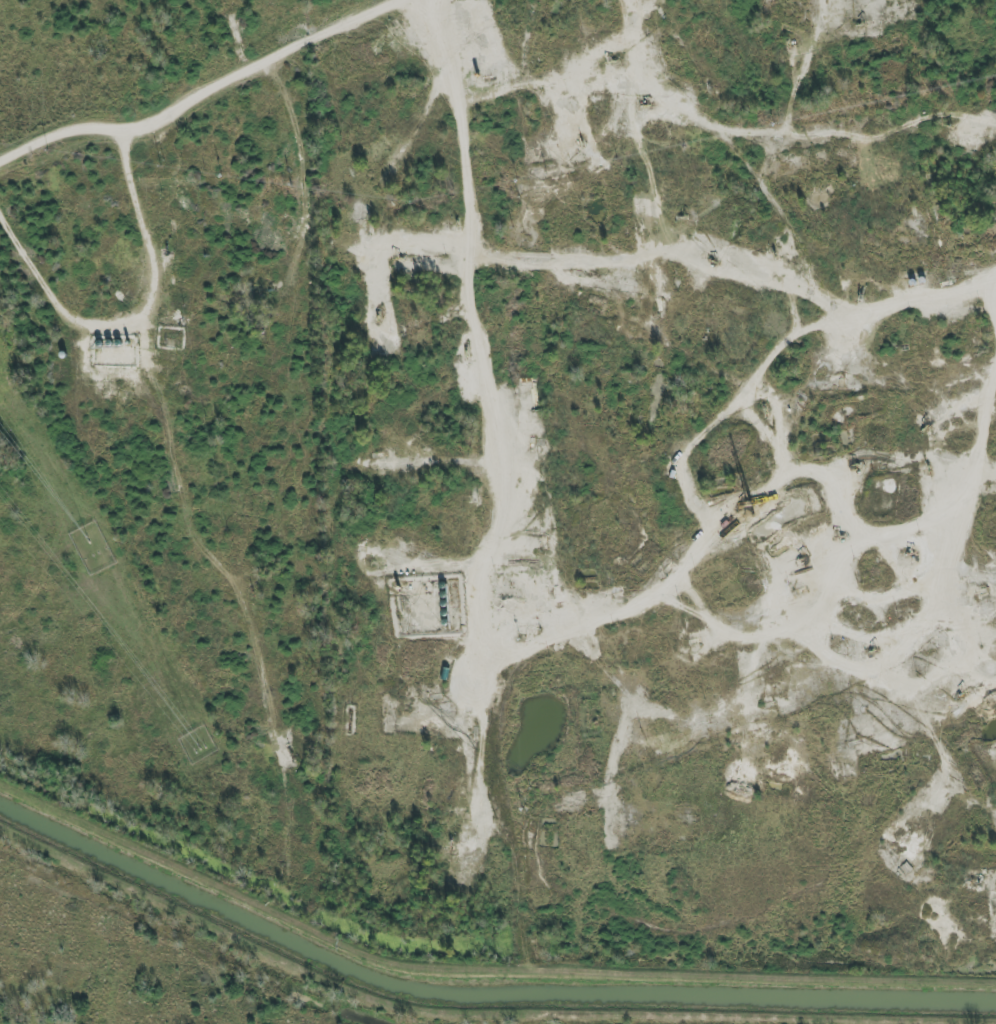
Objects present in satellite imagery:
road: (202, 90)
road: (471, 223)
road: (912, 296)
road: (135, 311)

